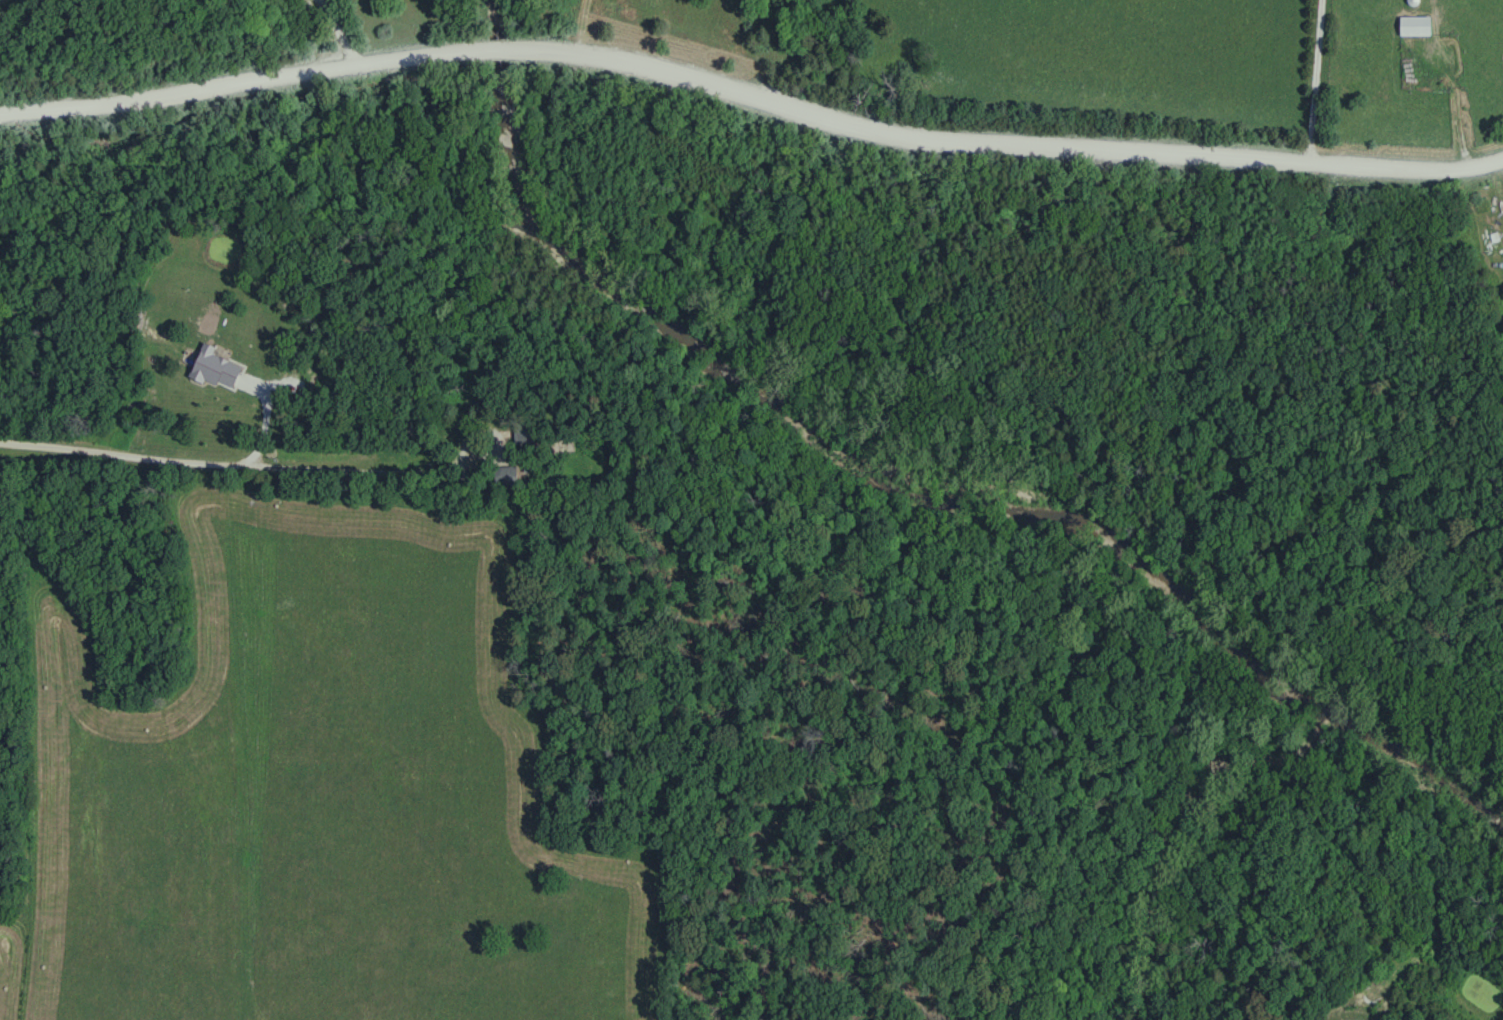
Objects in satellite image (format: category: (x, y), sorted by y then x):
building: (1417, 26)
road: (584, 29)
road: (338, 34)
road: (1313, 83)
road: (751, 89)
building: (218, 370)
building: (526, 436)
road: (193, 461)
building: (508, 477)

